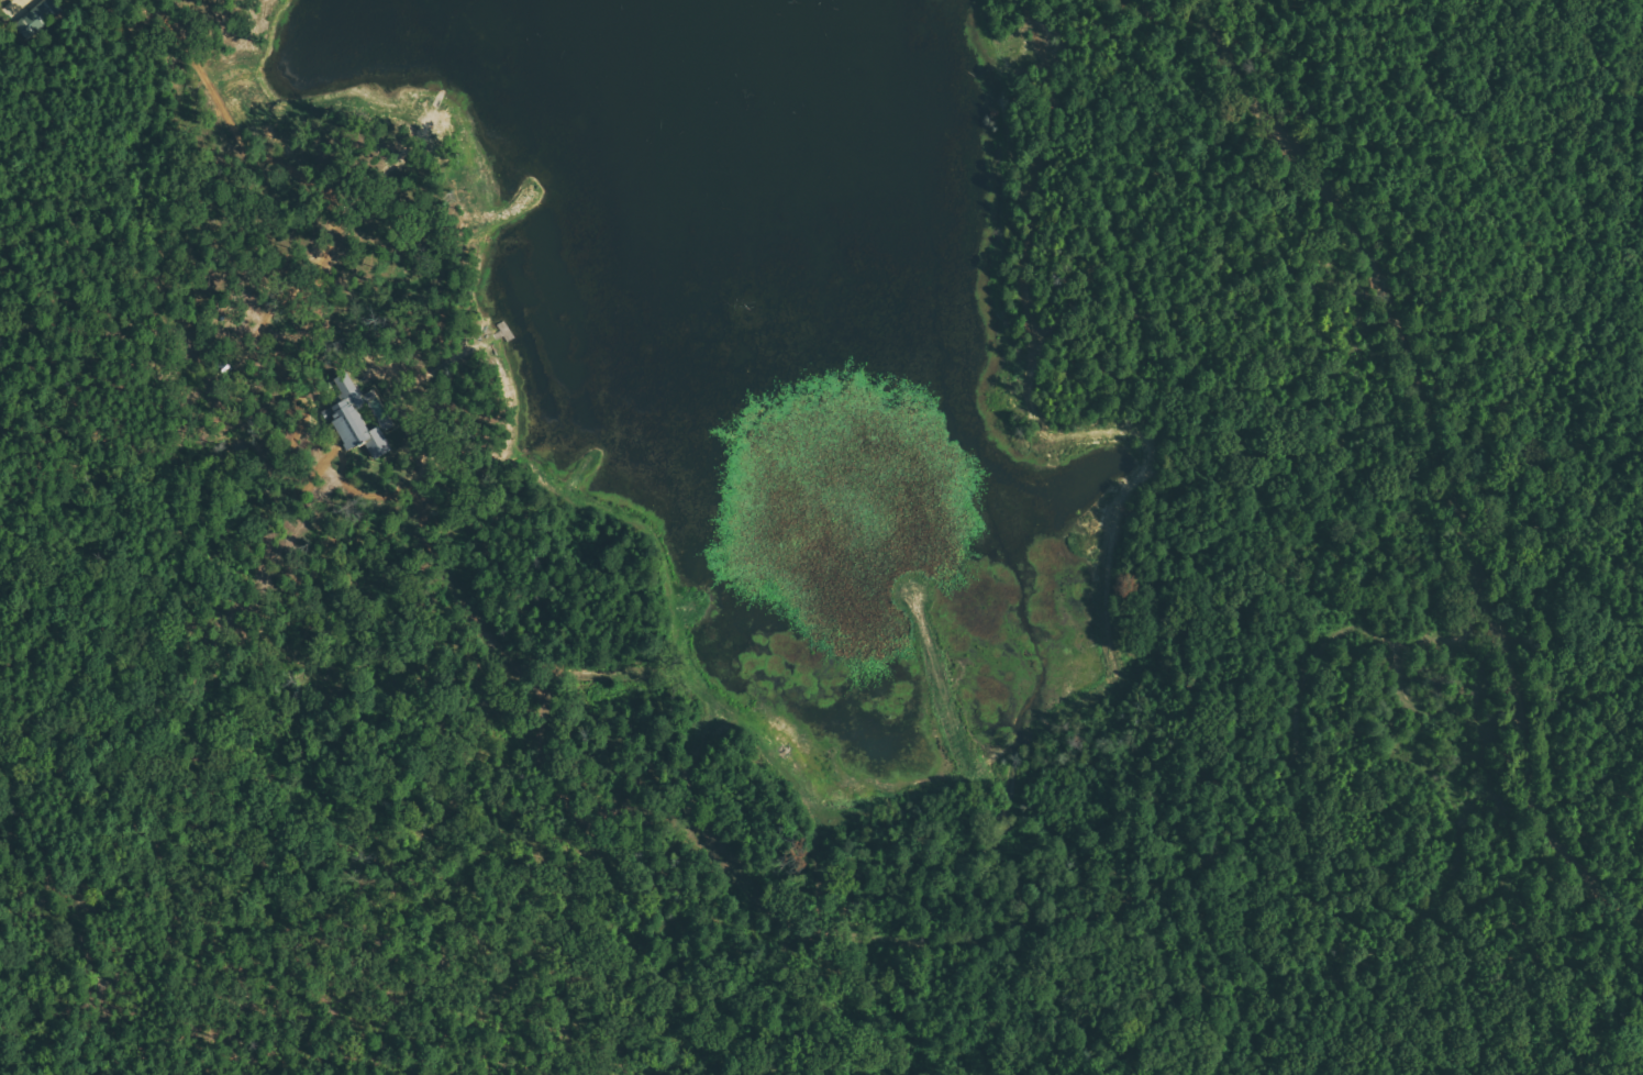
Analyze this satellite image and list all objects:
building: (37, 16)
building: (357, 420)
road: (1444, 453)

